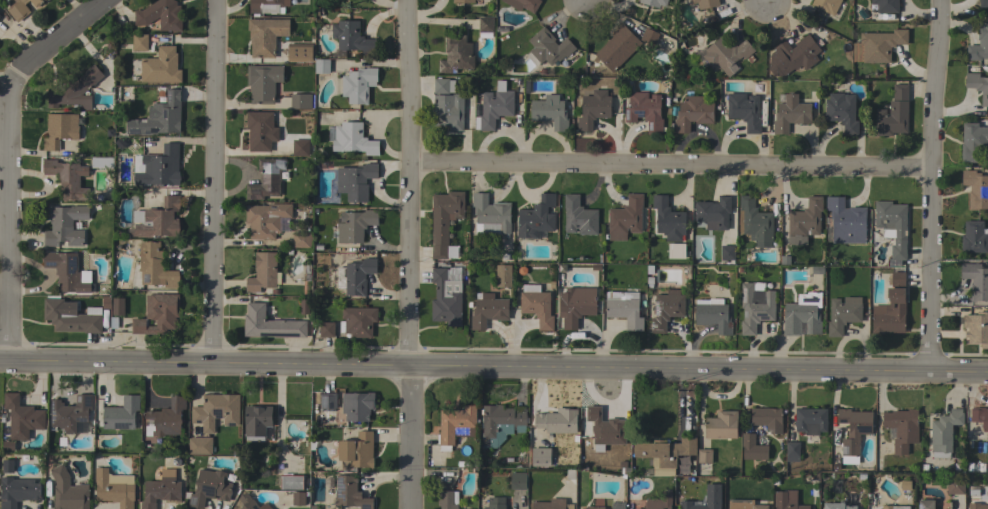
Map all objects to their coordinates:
building: (463, 1)
building: (36, 2)
building: (654, 2)
building: (705, 3)
building: (983, 3)
building: (523, 4)
building: (826, 5)
building: (886, 5)
building: (267, 6)
building: (18, 10)
building: (160, 15)
building: (485, 24)
building: (265, 35)
building: (649, 36)
road: (64, 38)
building: (352, 38)
building: (139, 42)
building: (979, 44)
building: (878, 46)
building: (547, 47)
building: (617, 48)
building: (299, 52)
building: (726, 54)
building: (796, 54)
building: (456, 55)
building: (160, 66)
building: (321, 66)
building: (263, 82)
building: (357, 85)
building: (978, 85)
building: (74, 90)
building: (300, 101)
building: (447, 105)
building: (494, 107)
building: (593, 109)
building: (644, 110)
building: (744, 110)
building: (841, 111)
building: (550, 112)
building: (692, 113)
building: (893, 113)
building: (790, 114)
building: (159, 117)
building: (59, 130)
building: (261, 131)
road: (380, 131)
building: (353, 139)
building: (973, 142)
building: (300, 148)
building: (102, 163)
building: (159, 167)
road: (672, 171)
building: (66, 178)
building: (267, 179)
road: (214, 181)
building: (355, 181)
road: (930, 185)
building: (976, 189)
building: (713, 213)
building: (491, 216)
building: (579, 216)
road: (8, 217)
building: (536, 218)
building: (157, 219)
building: (266, 219)
building: (625, 219)
building: (668, 219)
building: (444, 220)
building: (804, 221)
building: (846, 221)
building: (755, 222)
building: (65, 225)
building: (355, 225)
building: (892, 227)
building: (973, 237)
building: (301, 239)
building: (675, 251)
building: (451, 252)
building: (727, 253)
road: (410, 254)
building: (155, 266)
building: (263, 272)
building: (68, 273)
building: (355, 276)
building: (503, 276)
building: (896, 279)
building: (976, 281)
building: (446, 298)
building: (536, 305)
building: (576, 305)
building: (118, 306)
building: (755, 306)
building: (624, 309)
building: (666, 309)
building: (488, 310)
building: (889, 313)
building: (157, 314)
building: (802, 314)
building: (843, 314)
building: (713, 315)
building: (72, 317)
building: (359, 321)
building: (270, 324)
building: (975, 328)
building: (326, 329)
road: (493, 371)
building: (327, 400)
building: (357, 405)
building: (216, 411)
building: (70, 413)
building: (121, 414)
building: (22, 417)
building: (980, 417)
building: (767, 418)
building: (165, 419)
building: (557, 420)
building: (810, 420)
building: (257, 422)
building: (500, 424)
building: (456, 425)
building: (721, 425)
building: (605, 428)
building: (902, 428)
building: (853, 429)
building: (944, 433)
building: (575, 439)
building: (199, 445)
building: (598, 448)
building: (753, 448)
building: (664, 450)
building: (356, 451)
building: (792, 451)
building: (705, 456)
building: (540, 457)
building: (188, 460)
building: (508, 460)
building: (773, 460)
building: (852, 460)
building: (622, 465)
building: (7, 466)
building: (969, 467)
building: (981, 467)
building: (660, 470)
building: (687, 470)
building: (570, 474)
building: (815, 476)
building: (230, 477)
building: (861, 477)
building: (690, 479)
building: (518, 480)
building: (291, 482)
building: (775, 482)
building: (905, 486)
building: (955, 486)
building: (209, 488)
building: (114, 489)
building: (161, 490)
building: (17, 491)
building: (68, 491)
building: (349, 493)
building: (299, 497)
building: (447, 499)
building: (787, 500)
building: (869, 500)
building: (659, 501)
building: (902, 501)
building: (976, 501)
building: (250, 502)
building: (495, 503)
building: (552, 504)
building: (693, 504)
building: (925, 504)
building: (837, 506)
building: (759, 507)
building: (894, 507)
building: (593, 508)
building: (605, 508)

